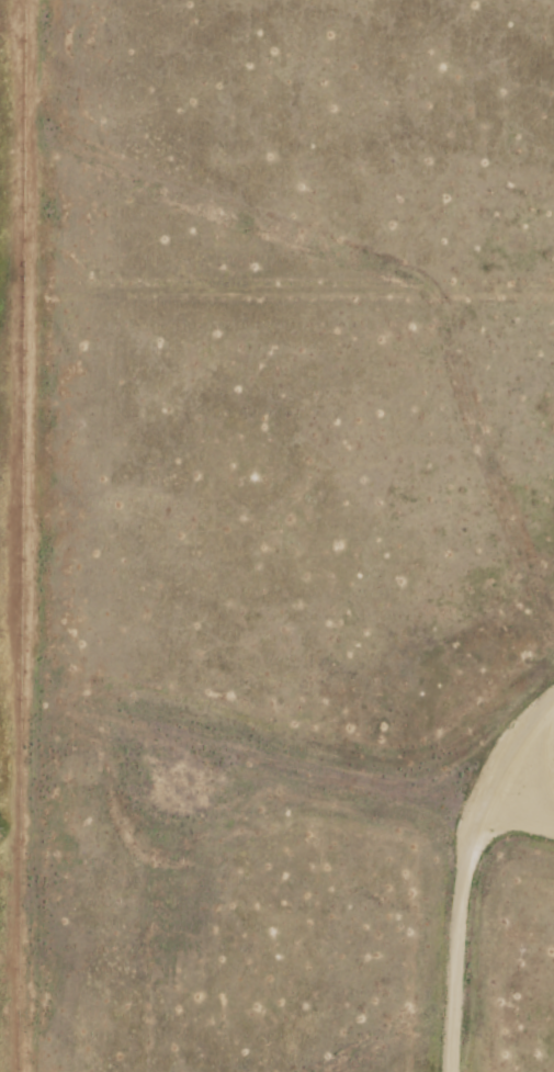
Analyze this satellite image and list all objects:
road: (338, 777)
wind turbine: (182, 791)
road: (460, 866)

